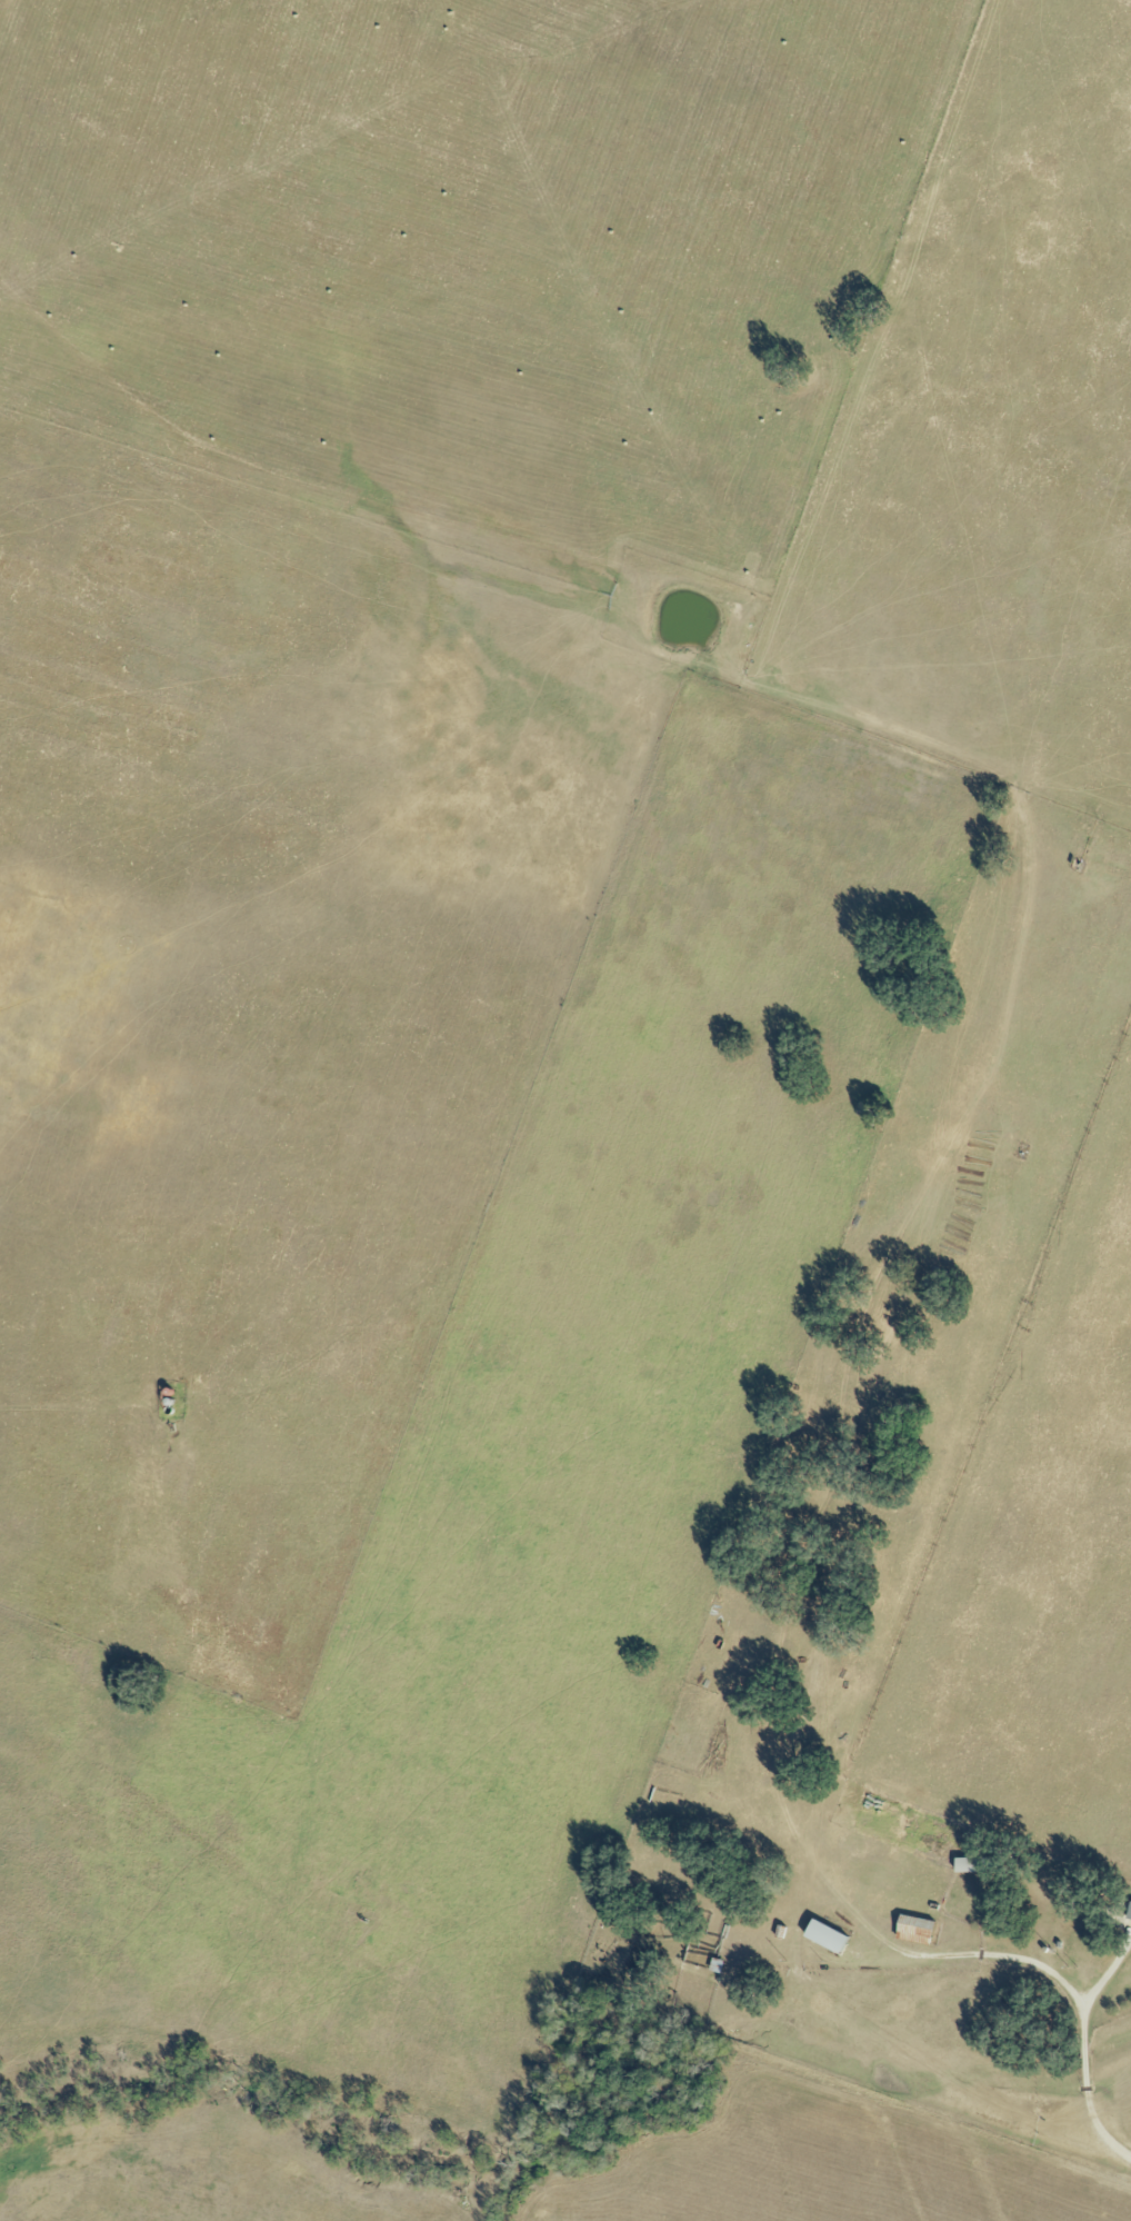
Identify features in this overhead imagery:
building: (1129, 1911)
building: (914, 1929)
road: (1083, 2038)

